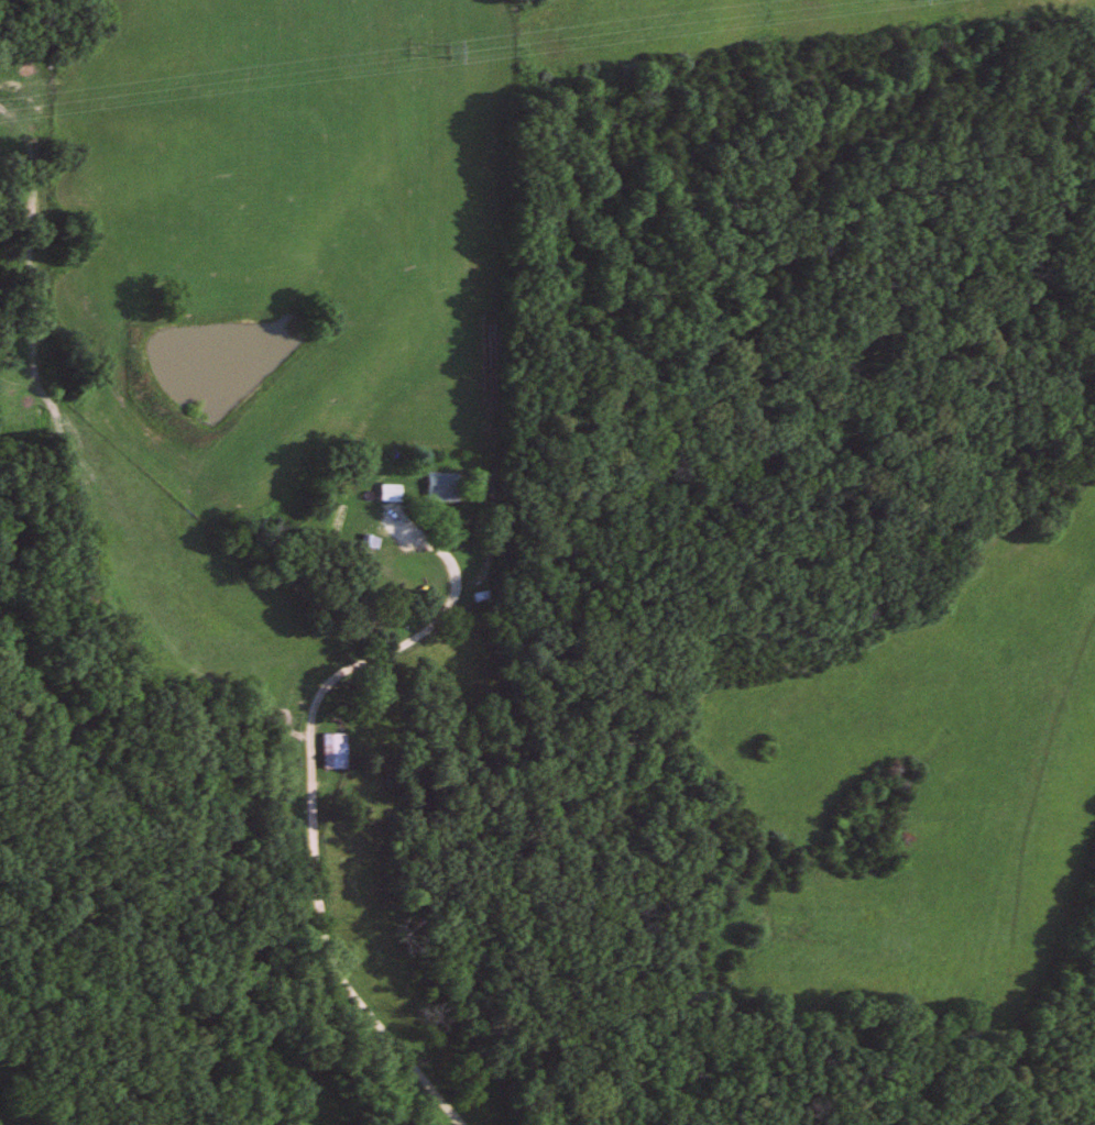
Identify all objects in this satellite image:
power tower: (439, 49)
building: (435, 485)
building: (385, 493)
building: (327, 751)
road: (311, 777)

